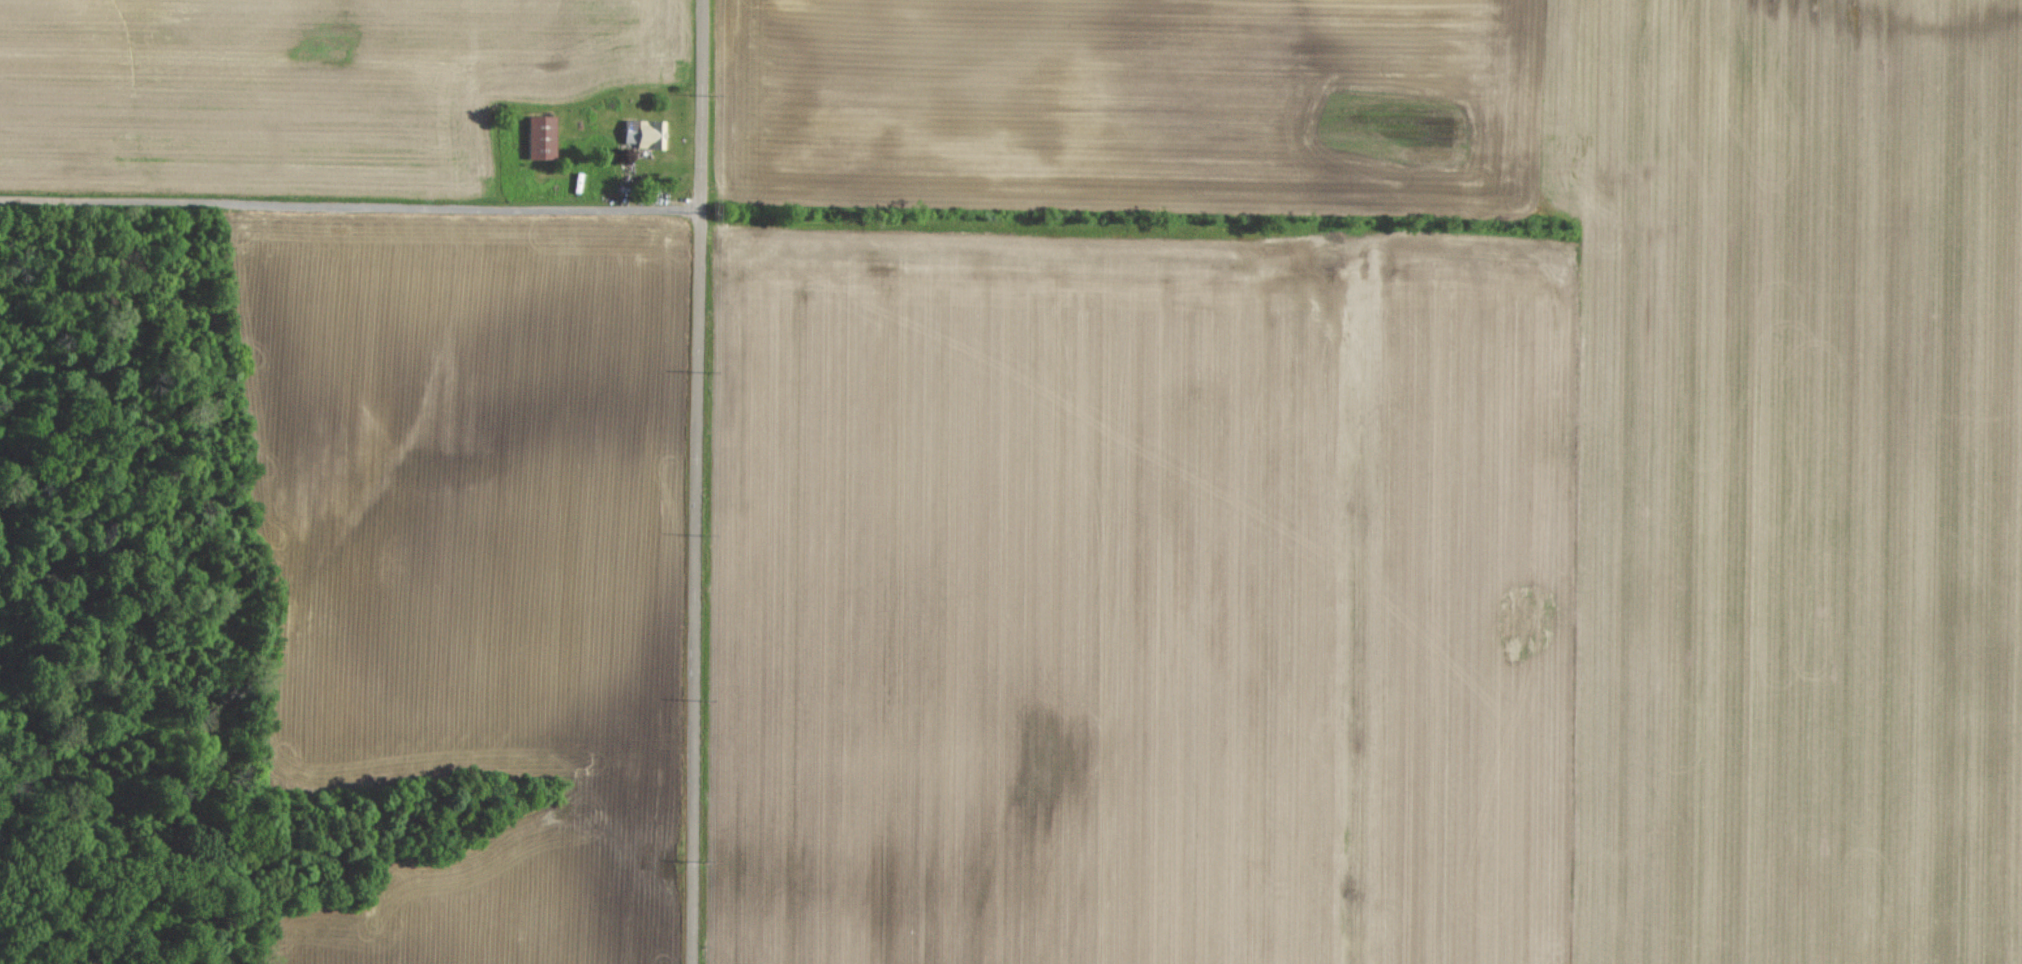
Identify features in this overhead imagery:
building: (537, 135)
road: (346, 213)
road: (689, 481)

